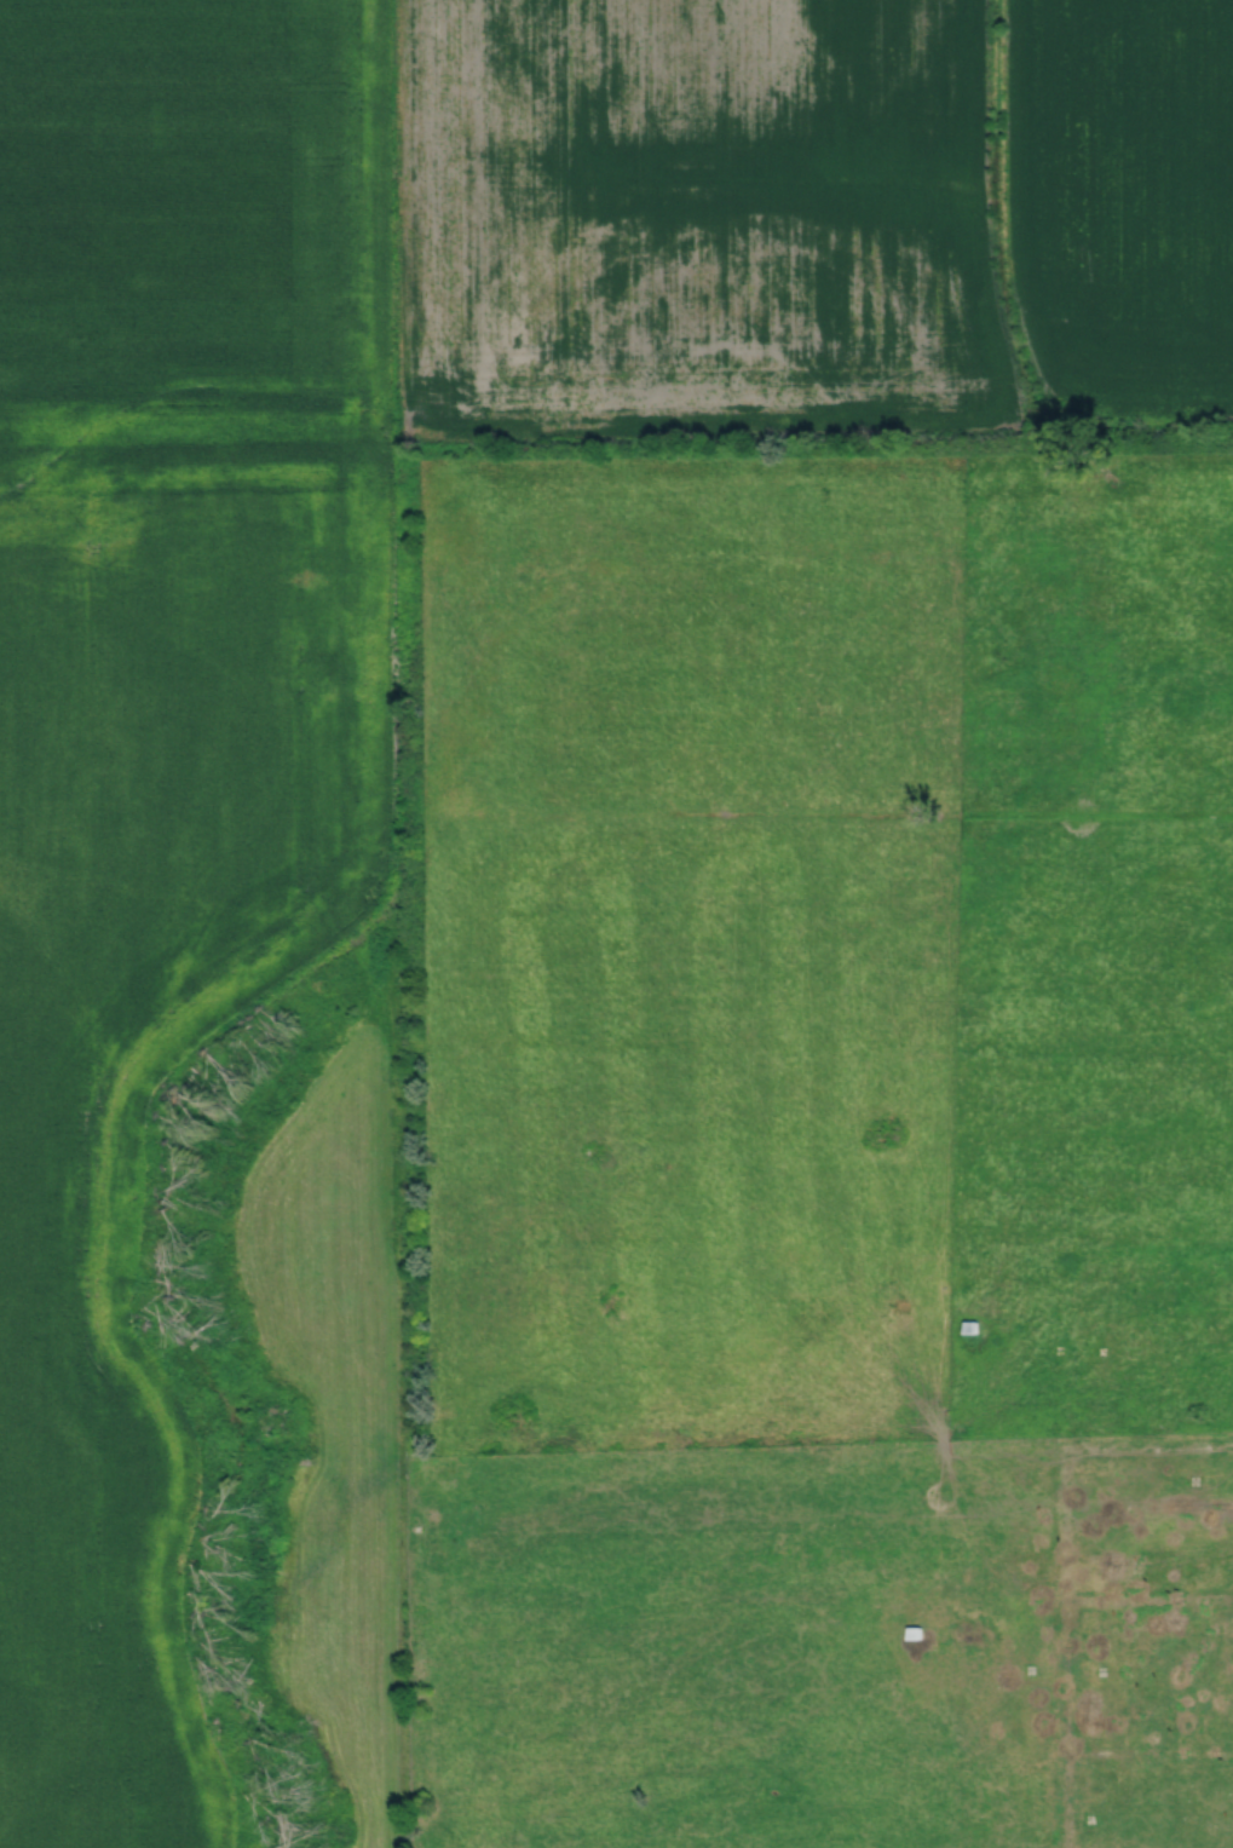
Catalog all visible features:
crop: (1112, 202)
crop: (192, 213)
crop: (691, 215)
crop: (144, 1034)
building: (968, 1326)
building: (911, 1633)

